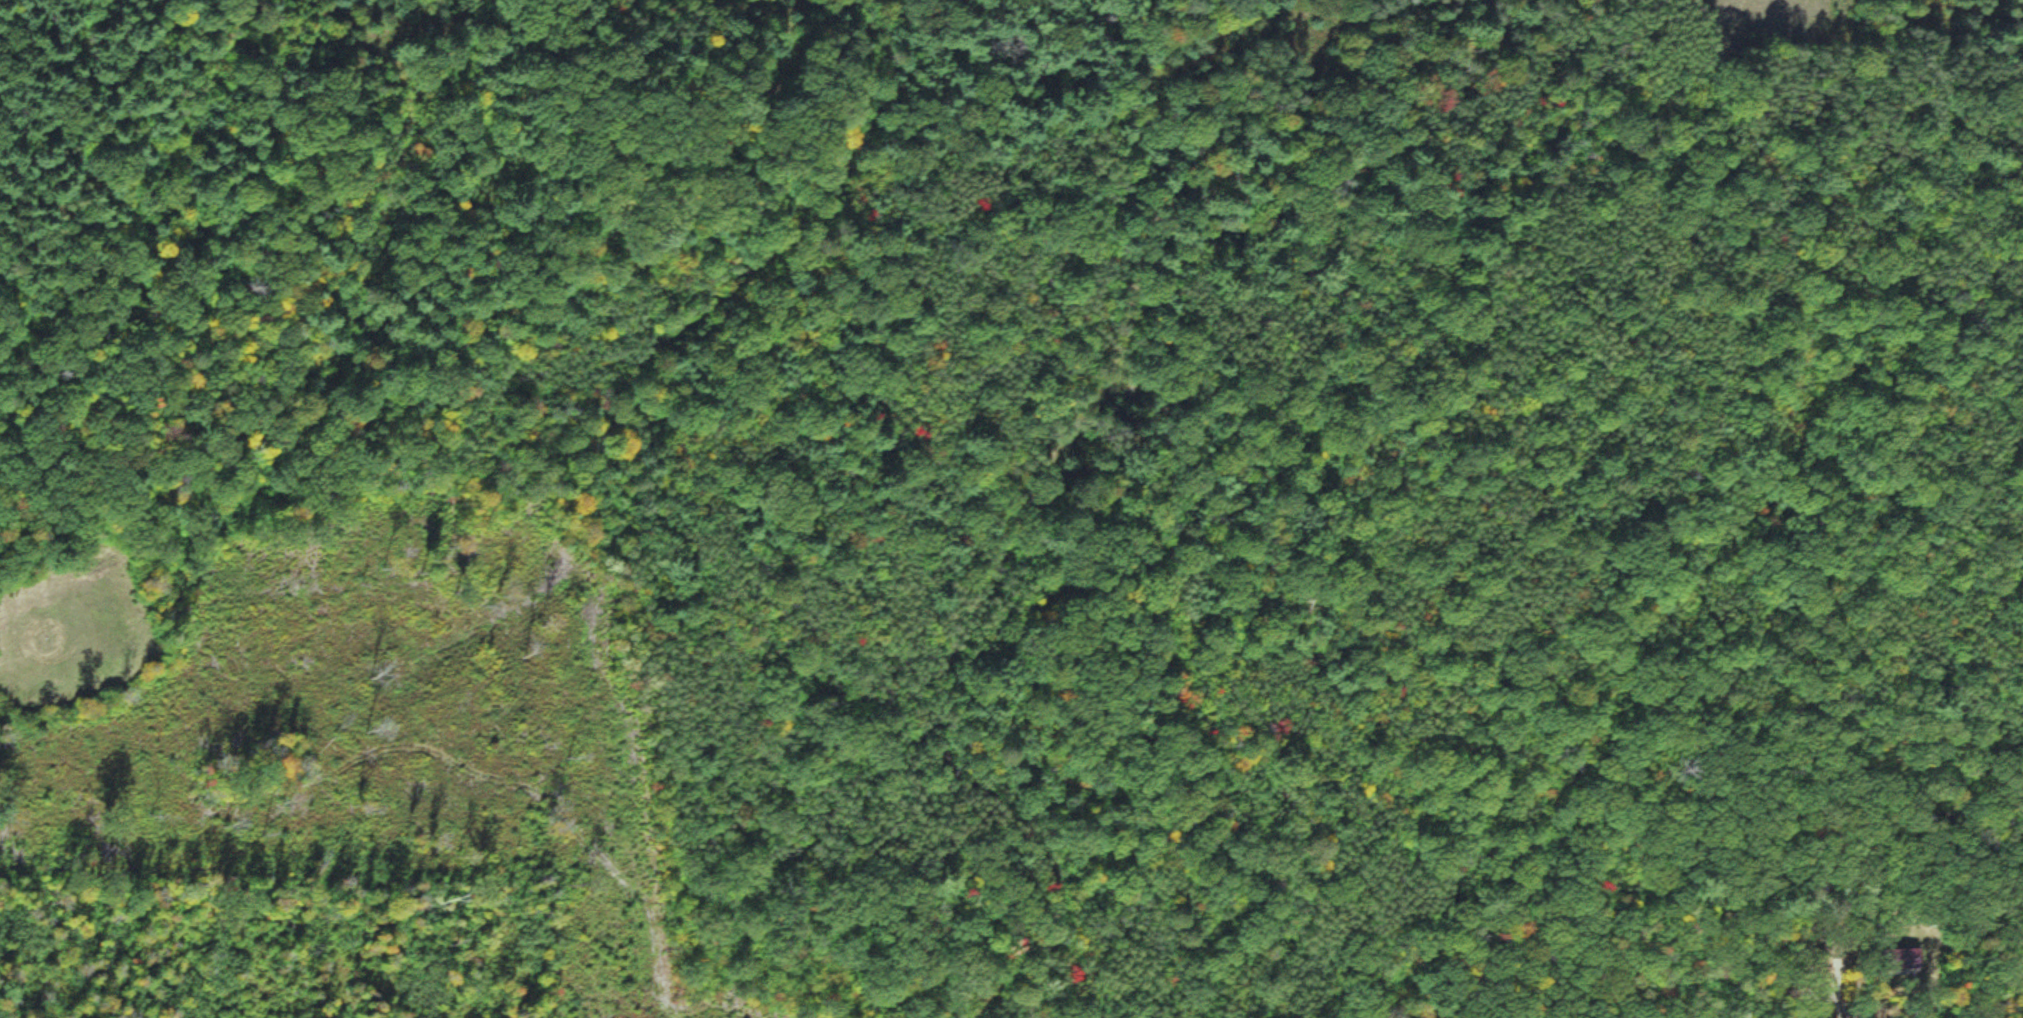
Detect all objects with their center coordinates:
petroleum well: (41, 631)
building: (1909, 959)

